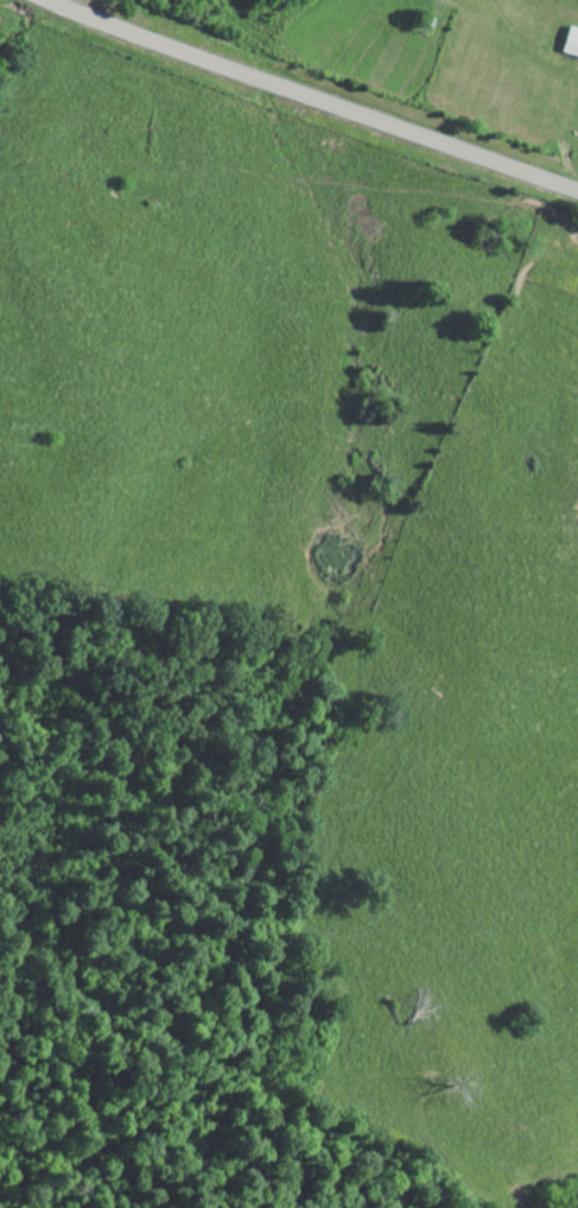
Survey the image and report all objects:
road: (311, 99)

